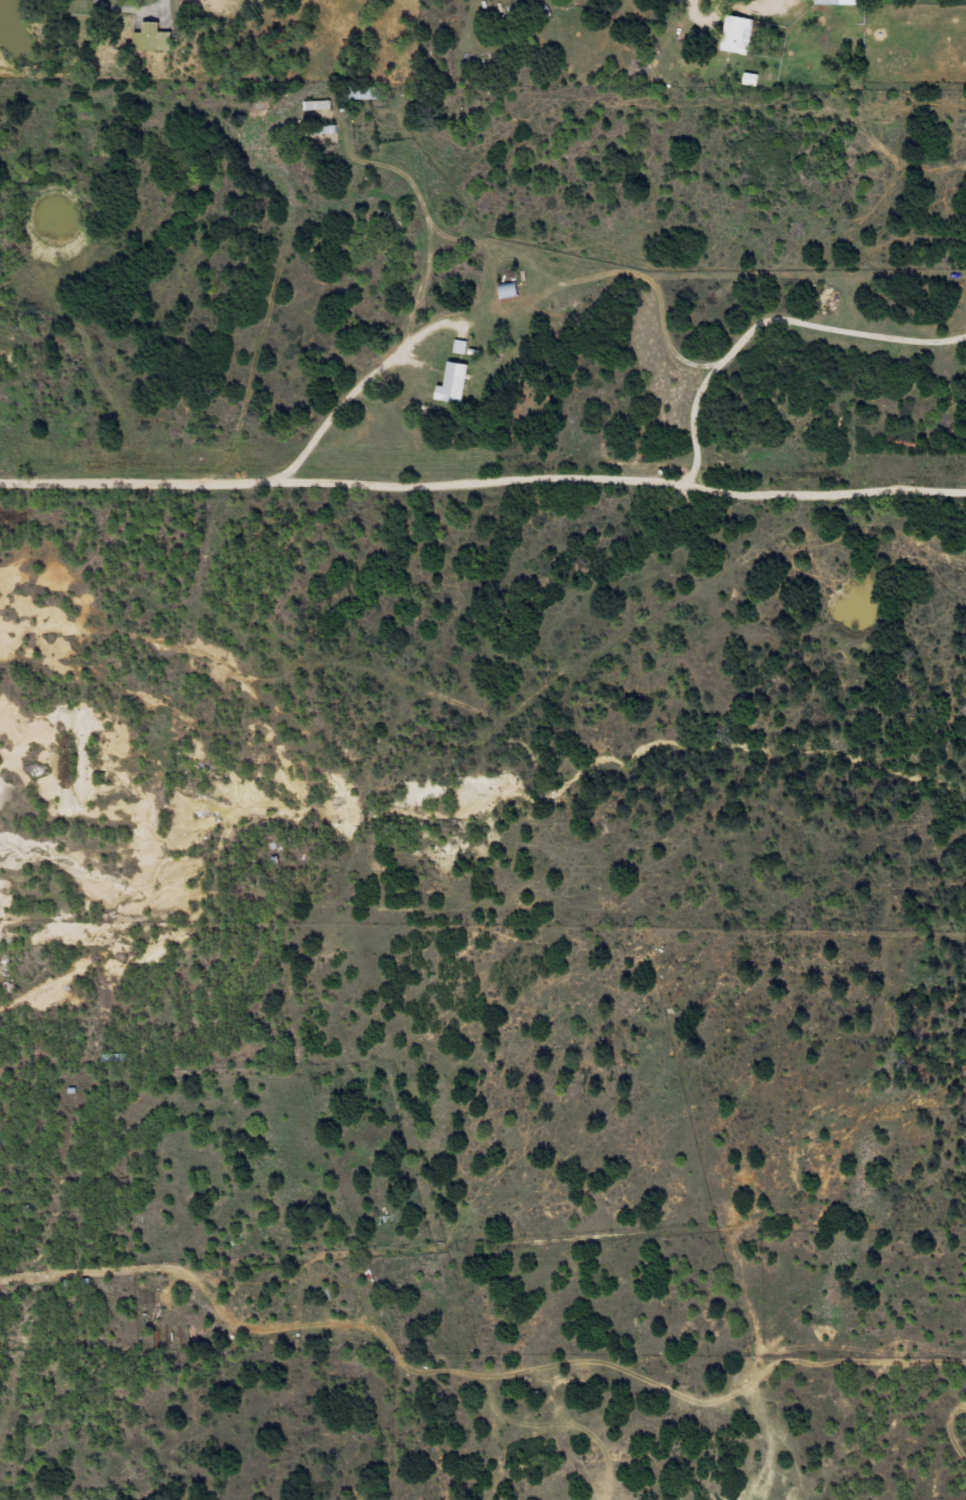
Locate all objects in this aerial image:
building: (843, 2)
building: (738, 34)
building: (838, 34)
building: (152, 37)
building: (752, 80)
building: (364, 92)
building: (318, 105)
building: (509, 289)
building: (460, 347)
building: (455, 383)
road: (394, 391)
road: (482, 508)
road: (489, 1247)

